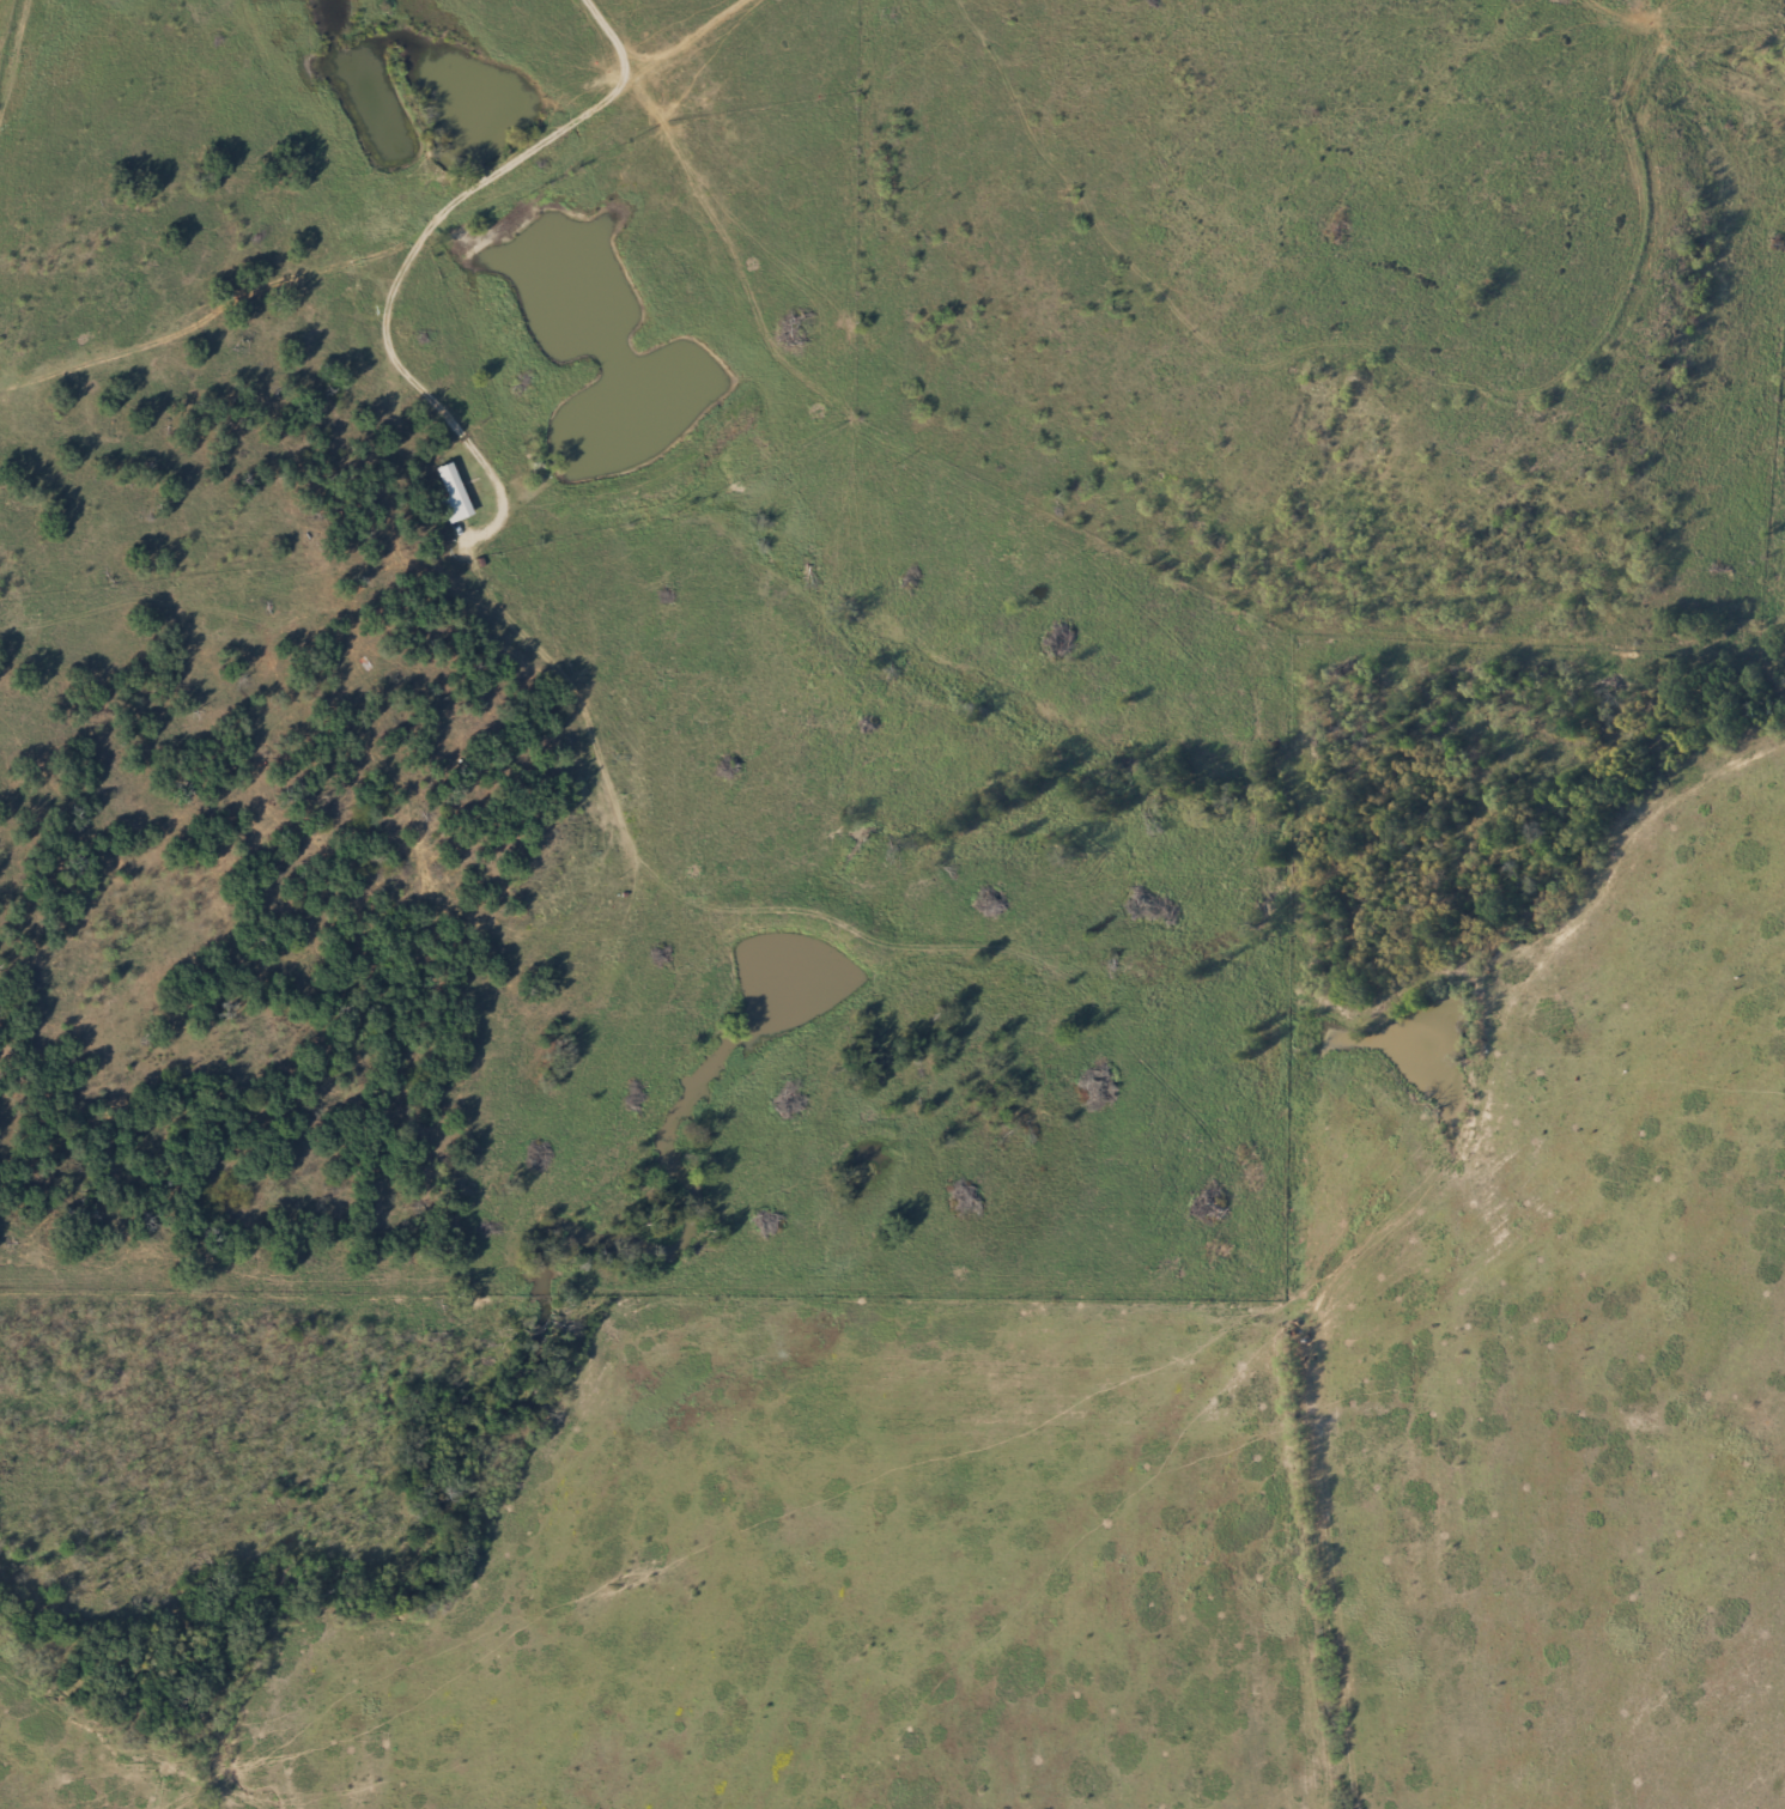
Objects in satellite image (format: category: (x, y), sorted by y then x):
building: (453, 493)
road: (975, 905)

